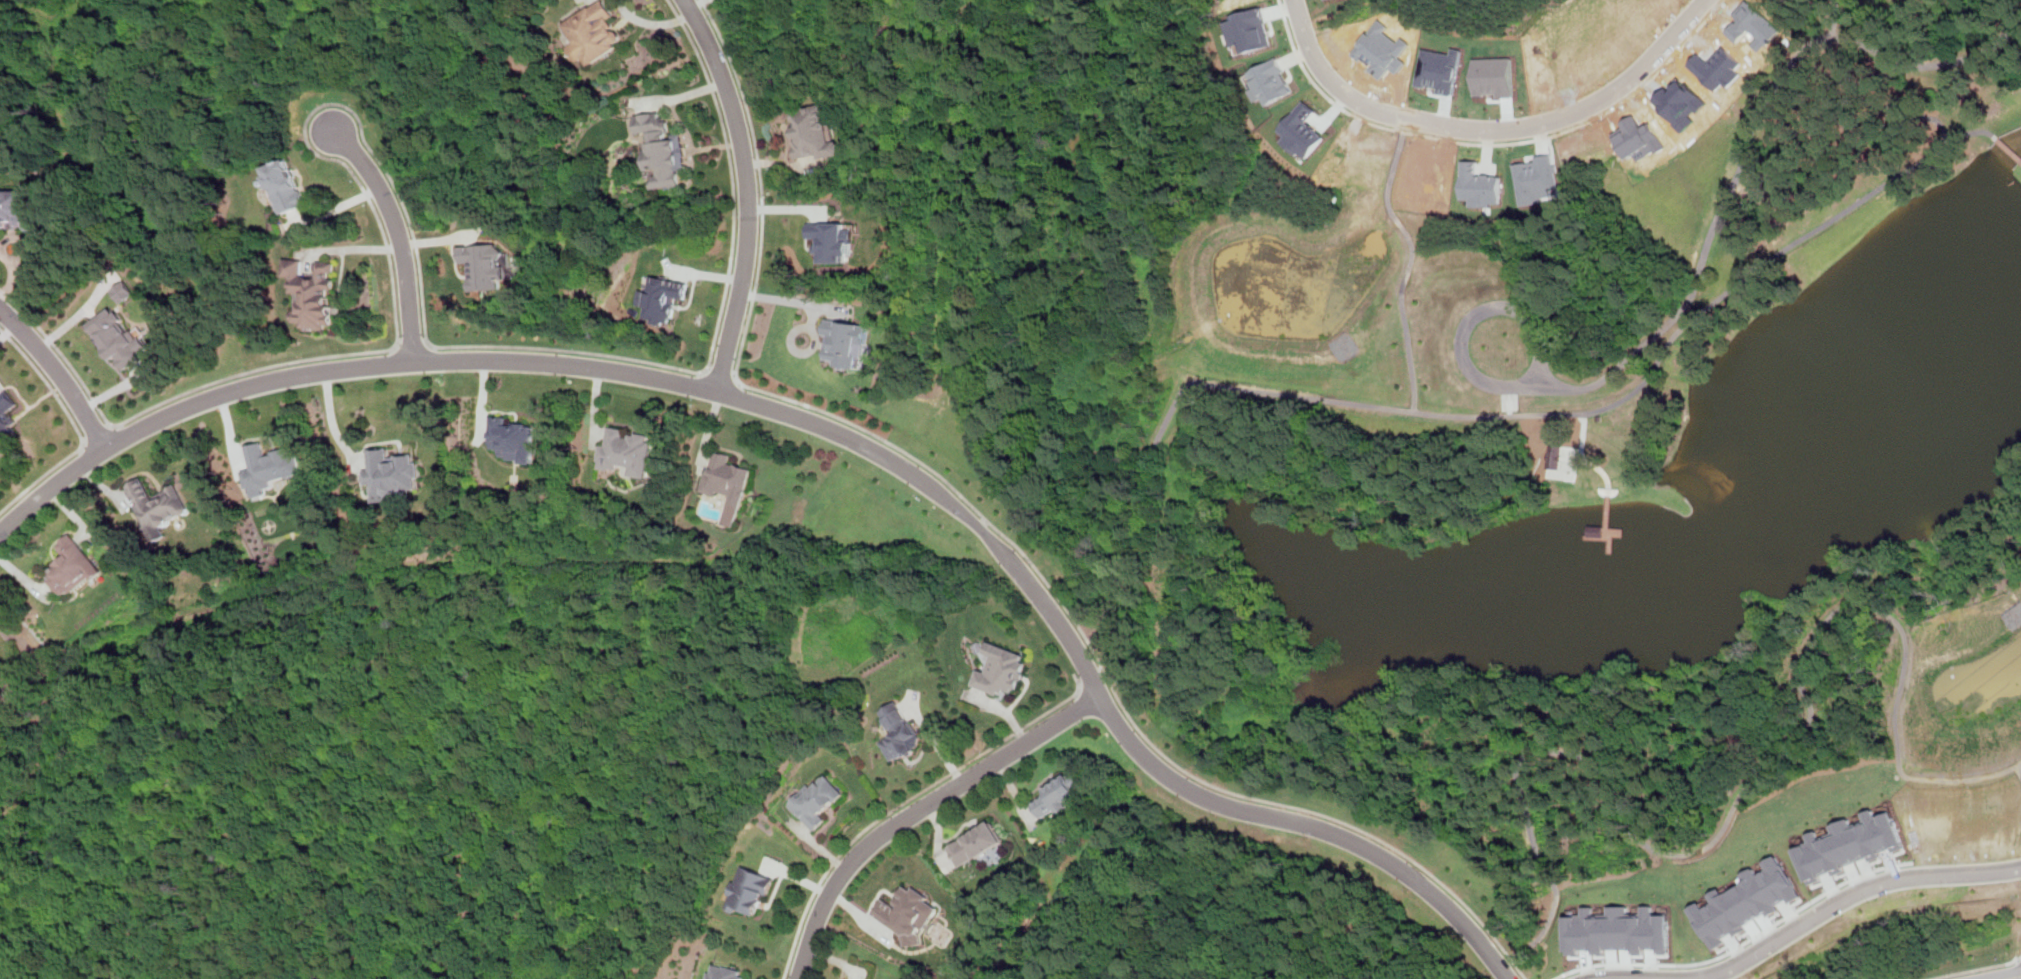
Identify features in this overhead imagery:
building: (1221, 2)
road: (697, 3)
building: (1779, 4)
building: (1752, 23)
building: (1247, 30)
building: (591, 32)
building: (1380, 50)
building: (1716, 67)
building: (1439, 68)
building: (1494, 75)
building: (1272, 80)
road: (677, 95)
building: (1679, 102)
building: (1299, 131)
building: (814, 132)
building: (434, 137)
road: (1493, 137)
building: (1638, 137)
road: (1745, 145)
road: (2007, 147)
building: (660, 150)
road: (384, 168)
building: (1430, 173)
building: (1538, 179)
building: (286, 186)
building: (1479, 186)
road: (748, 192)
building: (18, 208)
road: (400, 234)
building: (832, 239)
road: (0, 250)
road: (2, 252)
road: (1779, 253)
road: (1410, 264)
building: (480, 265)
road: (12, 280)
building: (123, 291)
building: (311, 294)
building: (661, 297)
road: (1476, 312)
building: (118, 340)
building: (844, 341)
road: (425, 344)
road: (393, 346)
road: (409, 346)
road: (705, 370)
road: (58, 373)
road: (720, 375)
road: (736, 378)
road: (1246, 390)
building: (6, 416)
road: (332, 418)
road: (112, 425)
road: (74, 426)
road: (839, 432)
road: (97, 434)
building: (510, 439)
road: (83, 443)
building: (624, 451)
building: (1553, 455)
road: (1584, 457)
building: (269, 467)
building: (391, 474)
building: (726, 484)
building: (156, 505)
pier: (1608, 513)
building: (1593, 529)
road: (1009, 537)
building: (71, 564)
road: (1099, 668)
building: (1000, 670)
road: (1087, 677)
building: (1, 684)
building: (898, 732)
road: (935, 739)
road: (2020, 767)
road: (1756, 772)
building: (1057, 794)
building: (815, 800)
road: (903, 801)
road: (920, 811)
building: (1966, 820)
building: (1847, 841)
building: (976, 843)
building: (747, 891)
road: (1859, 898)
building: (1748, 902)
building: (907, 914)
building: (1619, 930)
road: (2020, 958)
road: (1971, 968)
building: (722, 973)
road: (1618, 977)
road: (2016, 978)

